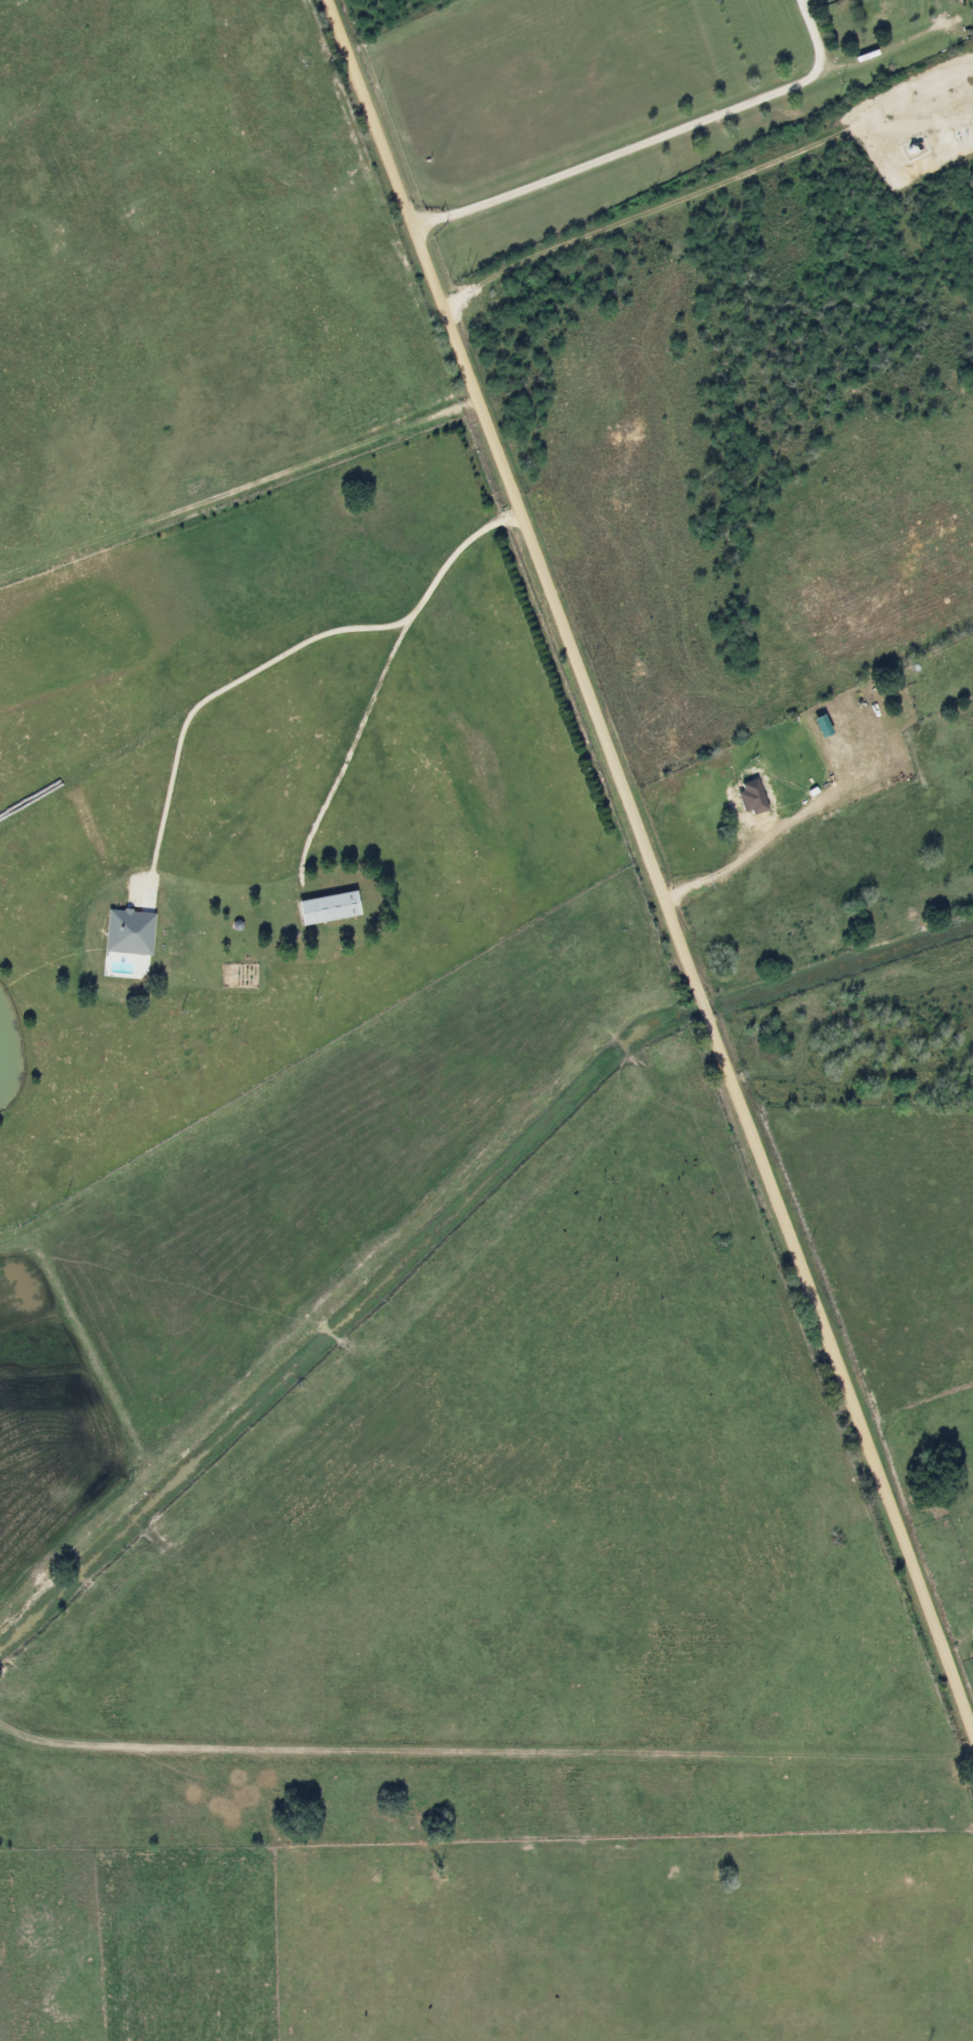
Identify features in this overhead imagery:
road: (642, 134)
road: (645, 213)
road: (276, 649)
building: (828, 705)
building: (743, 796)
road: (720, 864)
road: (650, 871)
building: (325, 908)

